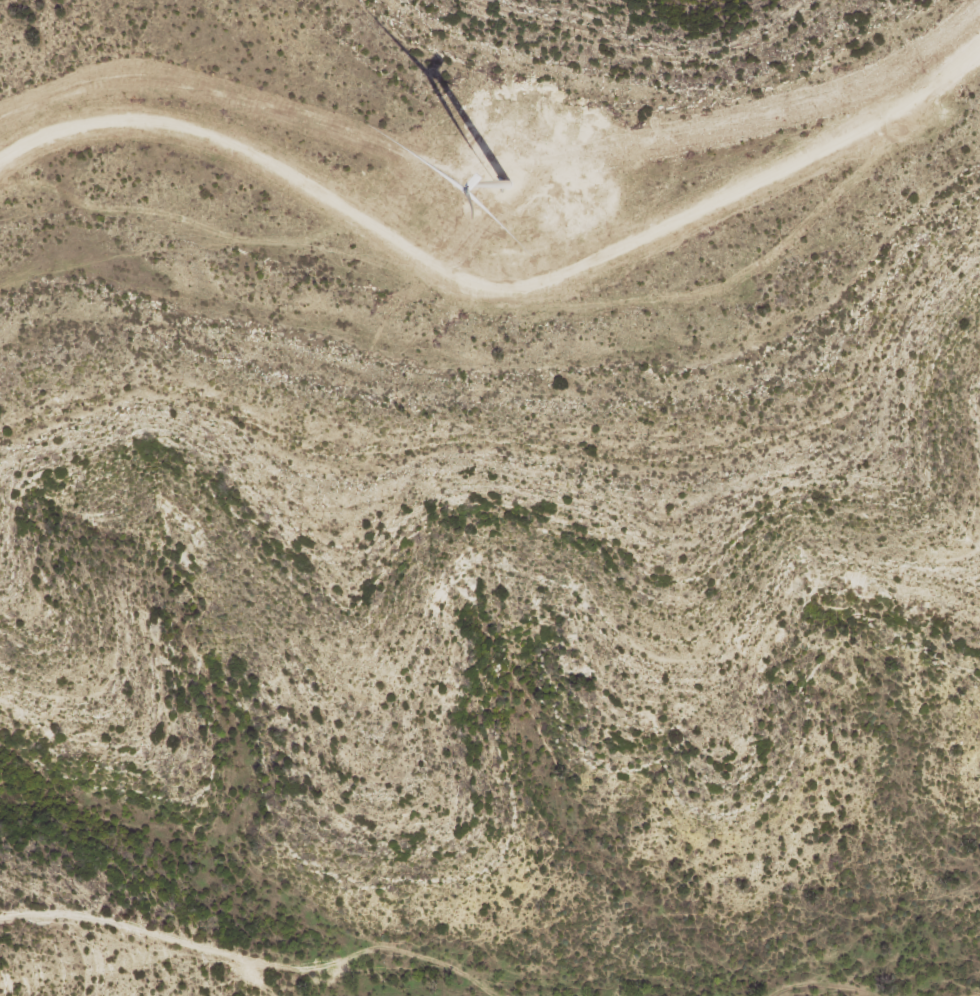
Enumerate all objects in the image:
wind turbine: (494, 170)

